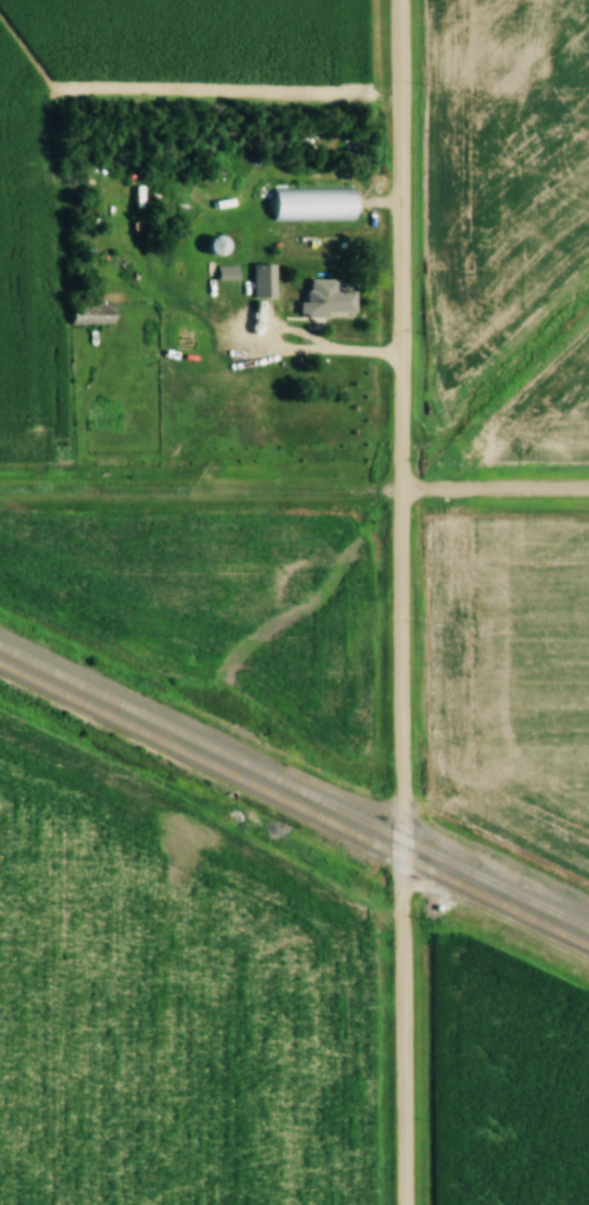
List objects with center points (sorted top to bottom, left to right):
building: (309, 204)
building: (207, 246)
building: (223, 273)
building: (260, 281)
building: (316, 297)
building: (84, 315)
road: (310, 354)
road: (293, 493)
road: (391, 602)
crop: (507, 679)
railway: (293, 787)
railway: (294, 805)
crop: (507, 1085)

